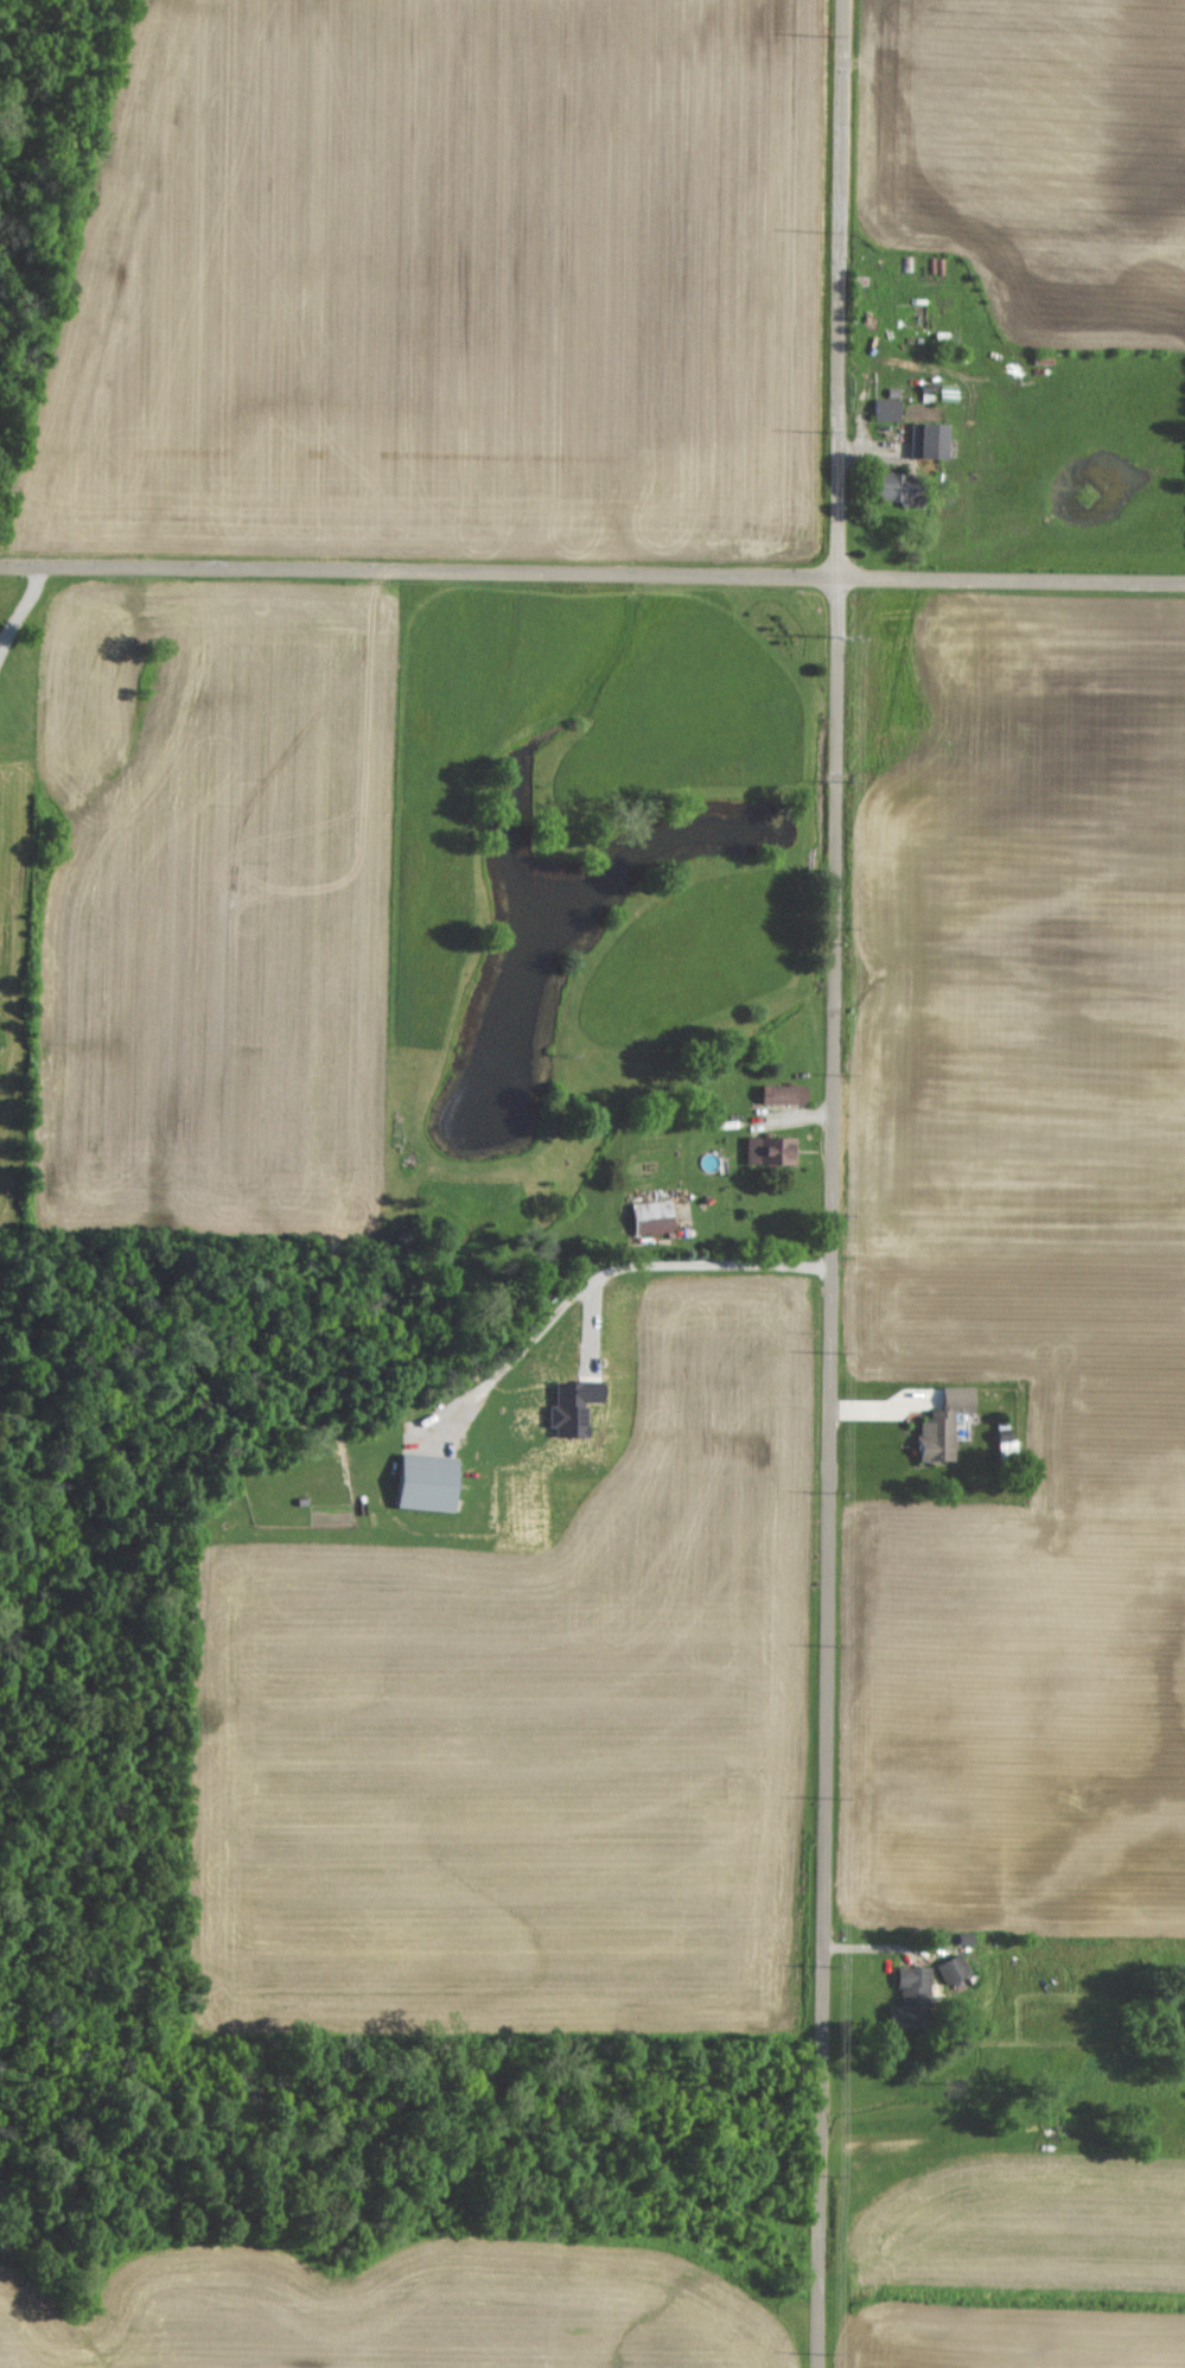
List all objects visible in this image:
building: (883, 408)
building: (924, 440)
building: (888, 485)
road: (592, 574)
building: (784, 1093)
building: (765, 1147)
road: (829, 1184)
building: (649, 1216)
road: (667, 1262)
building: (566, 1412)
building: (938, 1422)
building: (949, 1967)
building: (906, 1994)

